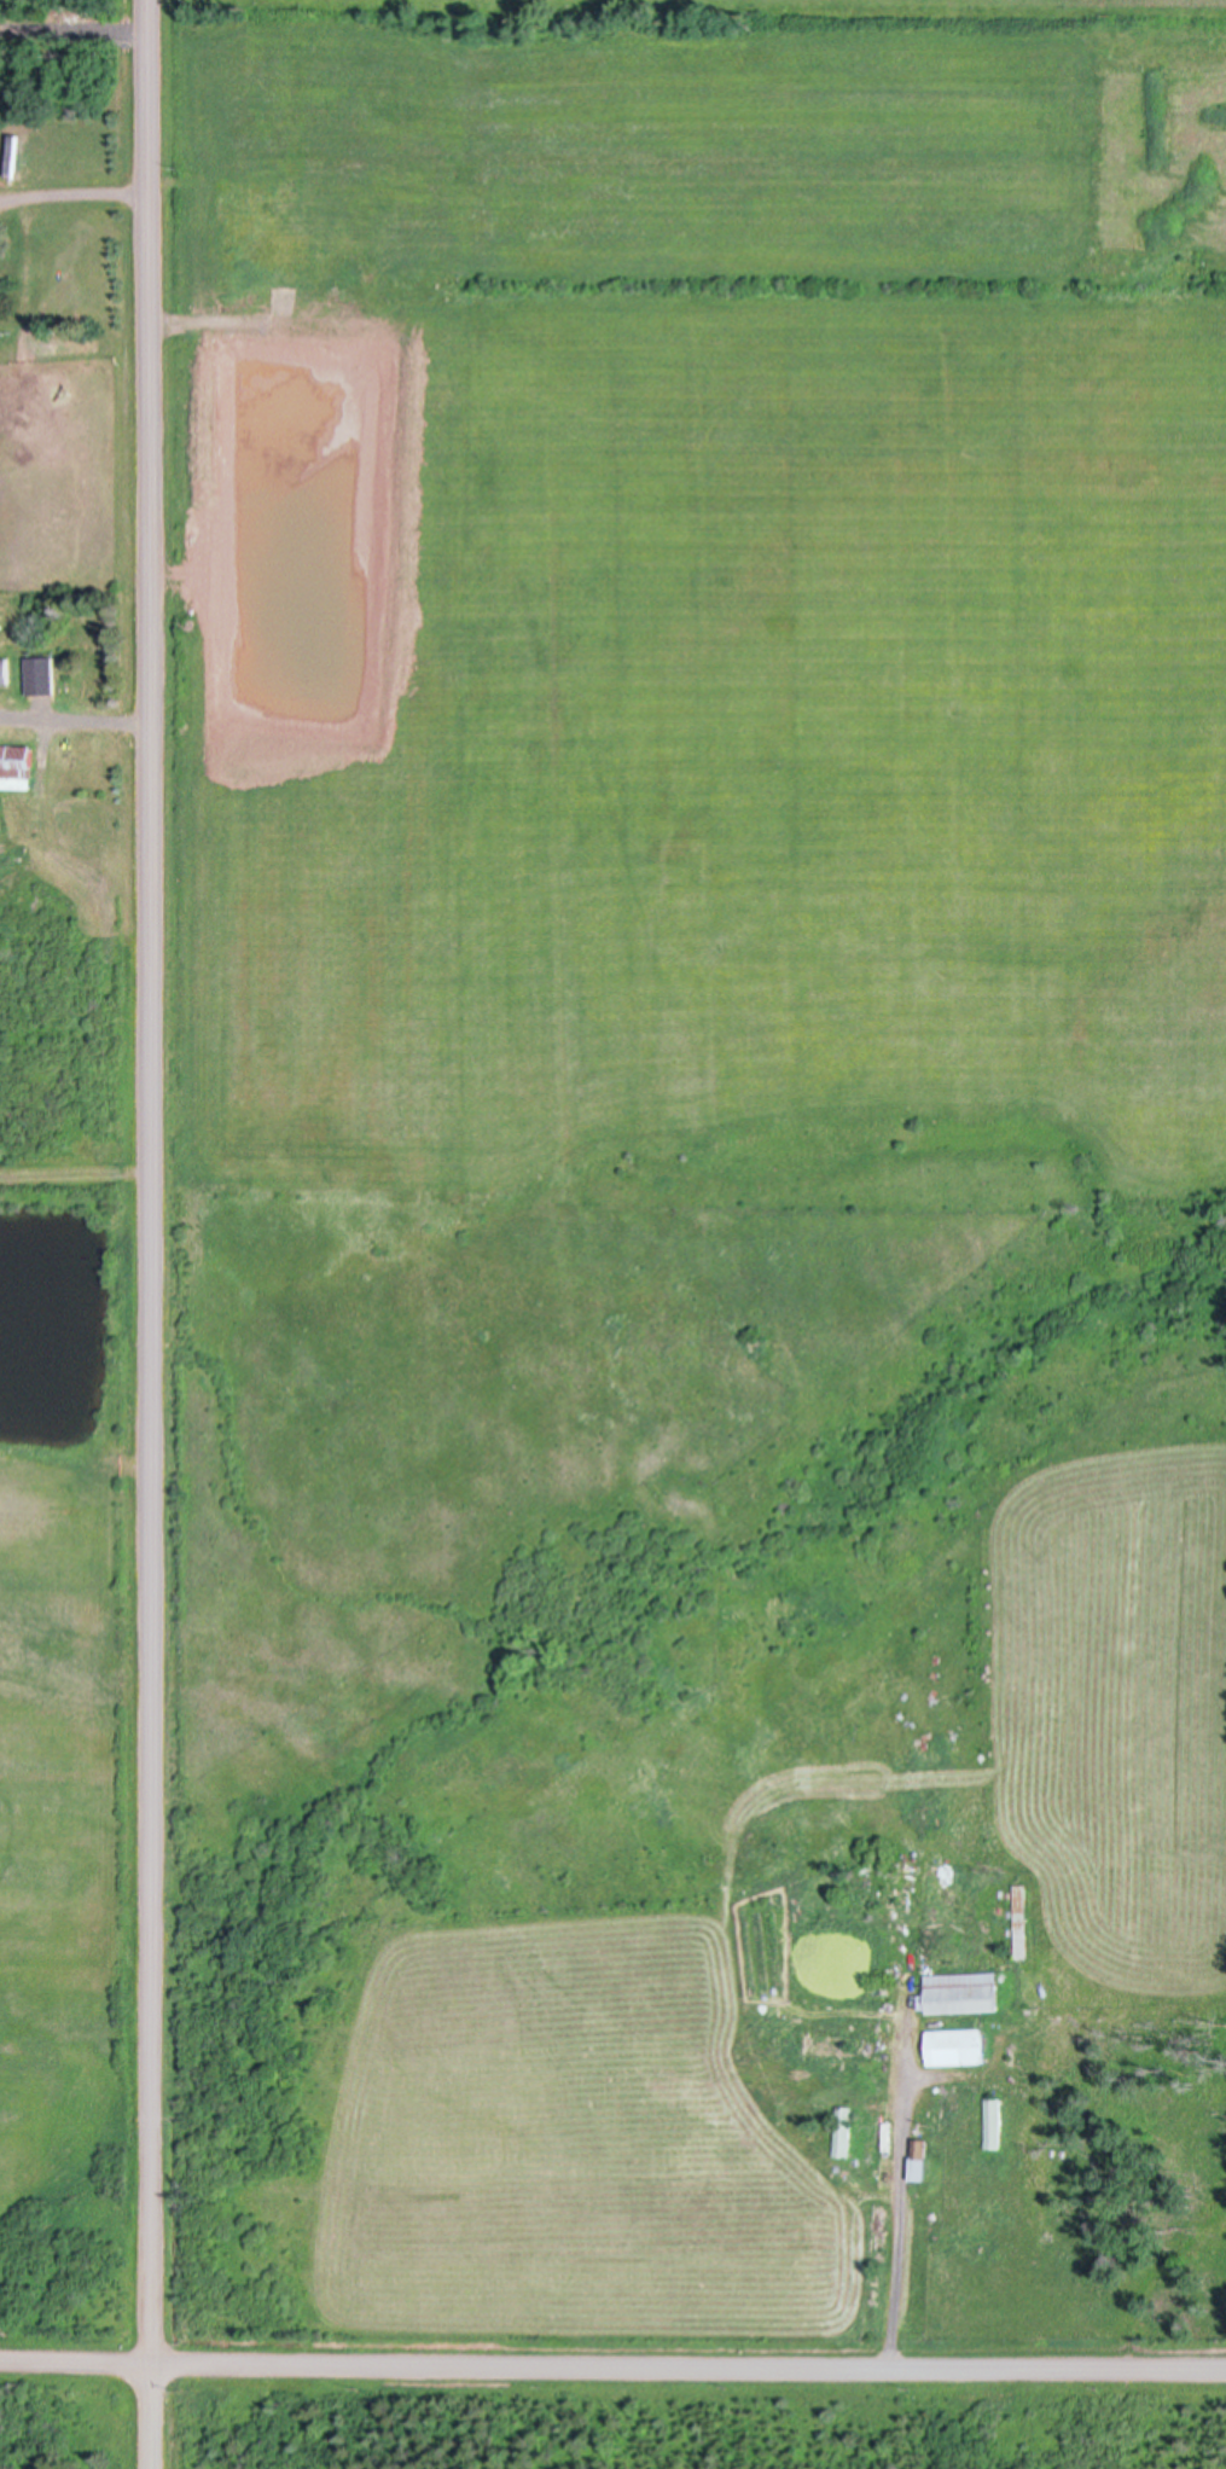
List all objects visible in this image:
road: (72, 196)
building: (4, 668)
building: (39, 673)
road: (93, 724)
building: (14, 763)
road: (150, 1233)
building: (1021, 1921)
building: (961, 1993)
building: (839, 2045)
building: (955, 2046)
building: (993, 2124)
building: (843, 2131)
building: (920, 2160)
road: (900, 2188)
road: (75, 2363)
road: (687, 2366)

